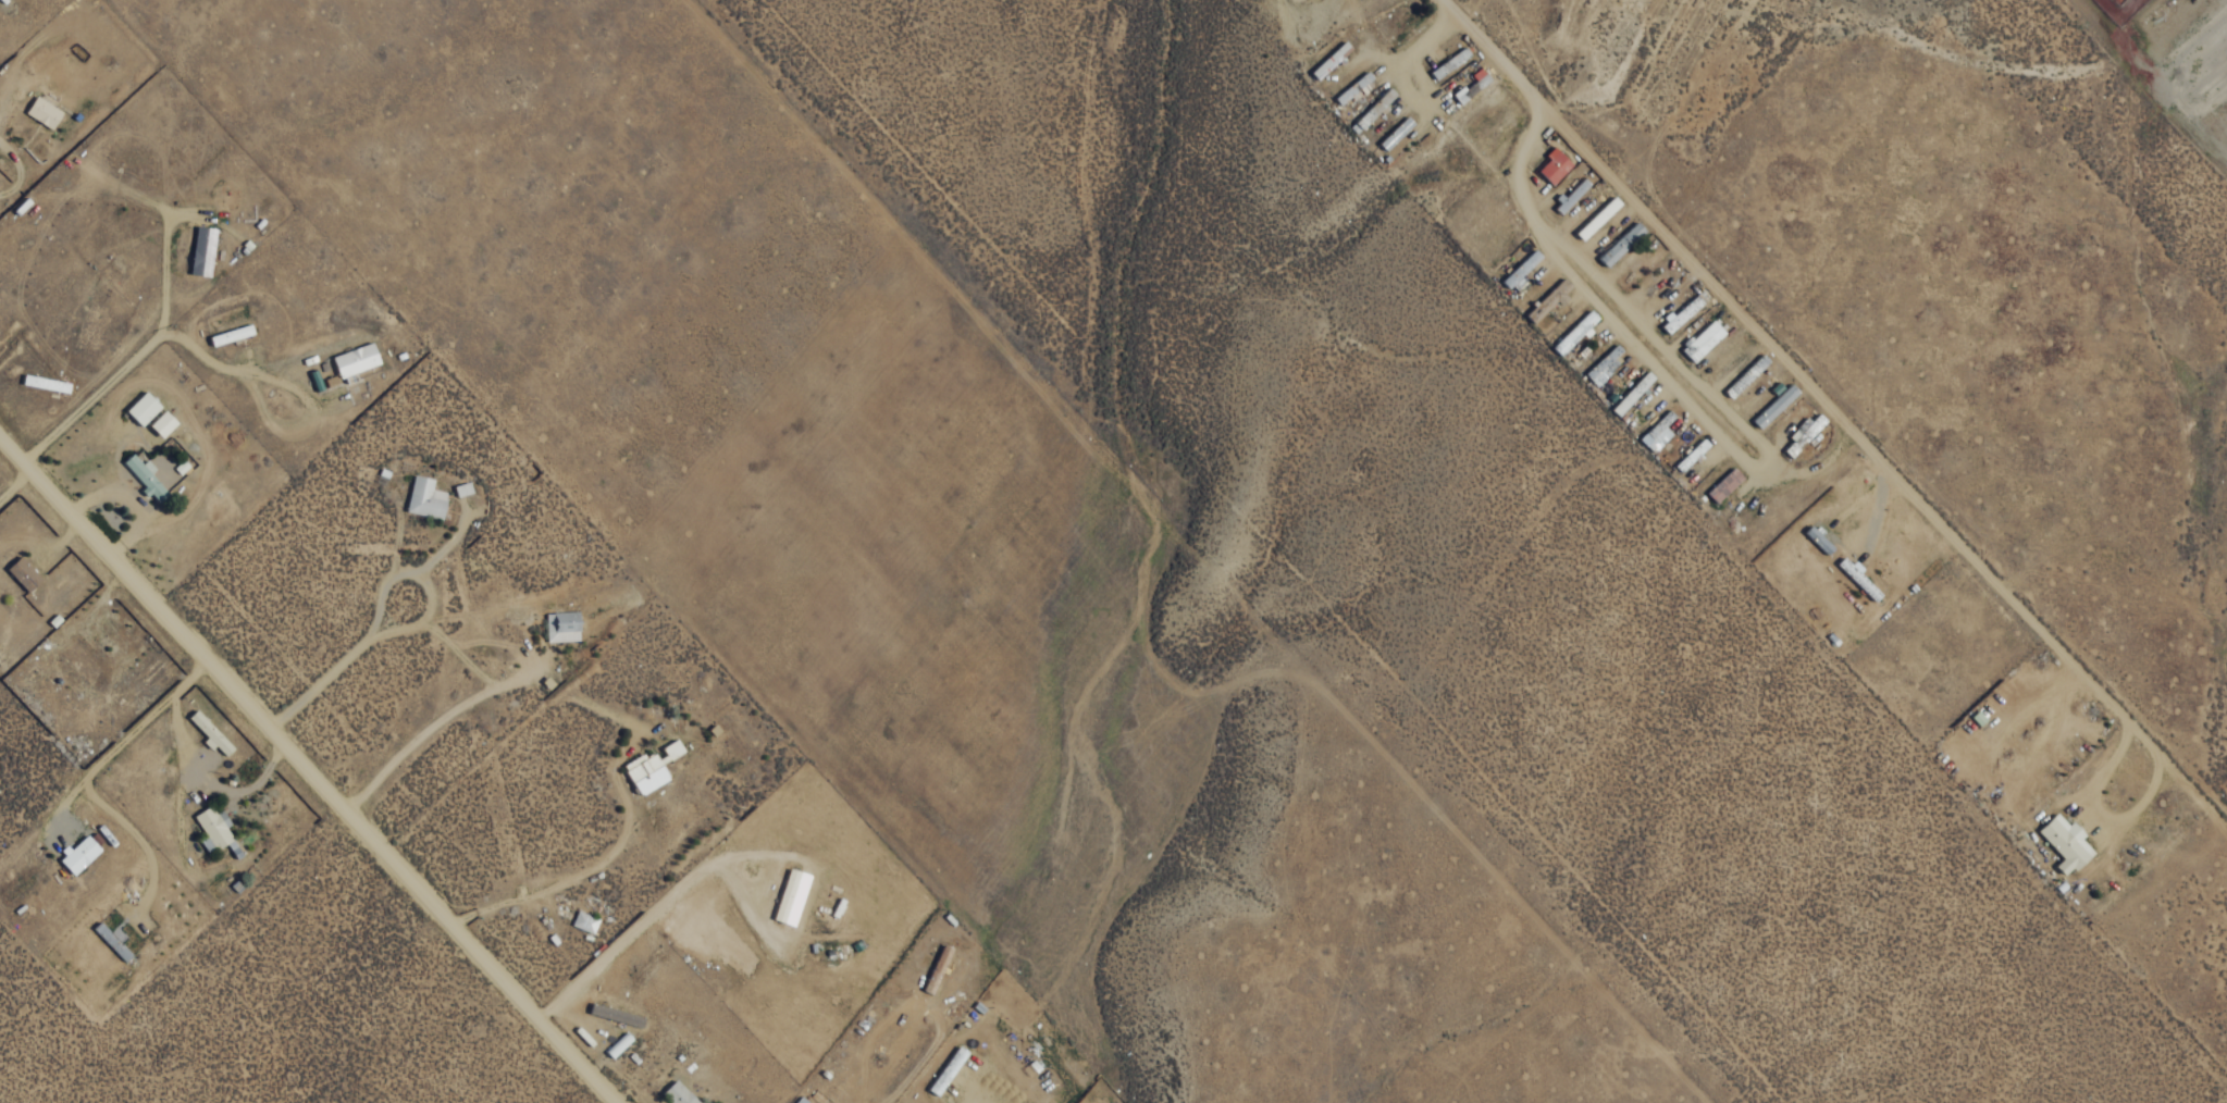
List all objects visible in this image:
building: (1326, 61)
building: (1350, 88)
building: (44, 111)
building: (1370, 111)
building: (1393, 133)
building: (1550, 165)
building: (1568, 196)
building: (1594, 219)
building: (1619, 244)
road: (1562, 247)
building: (203, 250)
building: (1644, 265)
building: (1517, 271)
building: (1681, 312)
building: (231, 334)
building: (1571, 334)
building: (1699, 340)
building: (357, 359)
building: (1601, 364)
building: (1629, 394)
building: (1771, 406)
building: (144, 408)
road: (1854, 433)
building: (1654, 434)
road: (13, 449)
building: (1688, 455)
building: (145, 475)
building: (1721, 485)
building: (425, 497)
building: (24, 573)
building: (562, 625)
building: (210, 732)
building: (655, 768)
road: (320, 782)
building: (213, 828)
building: (2062, 843)
building: (79, 854)
building: (792, 896)
building: (584, 921)
building: (616, 1015)
building: (617, 1044)
building: (679, 1093)
building: (800, 1101)

